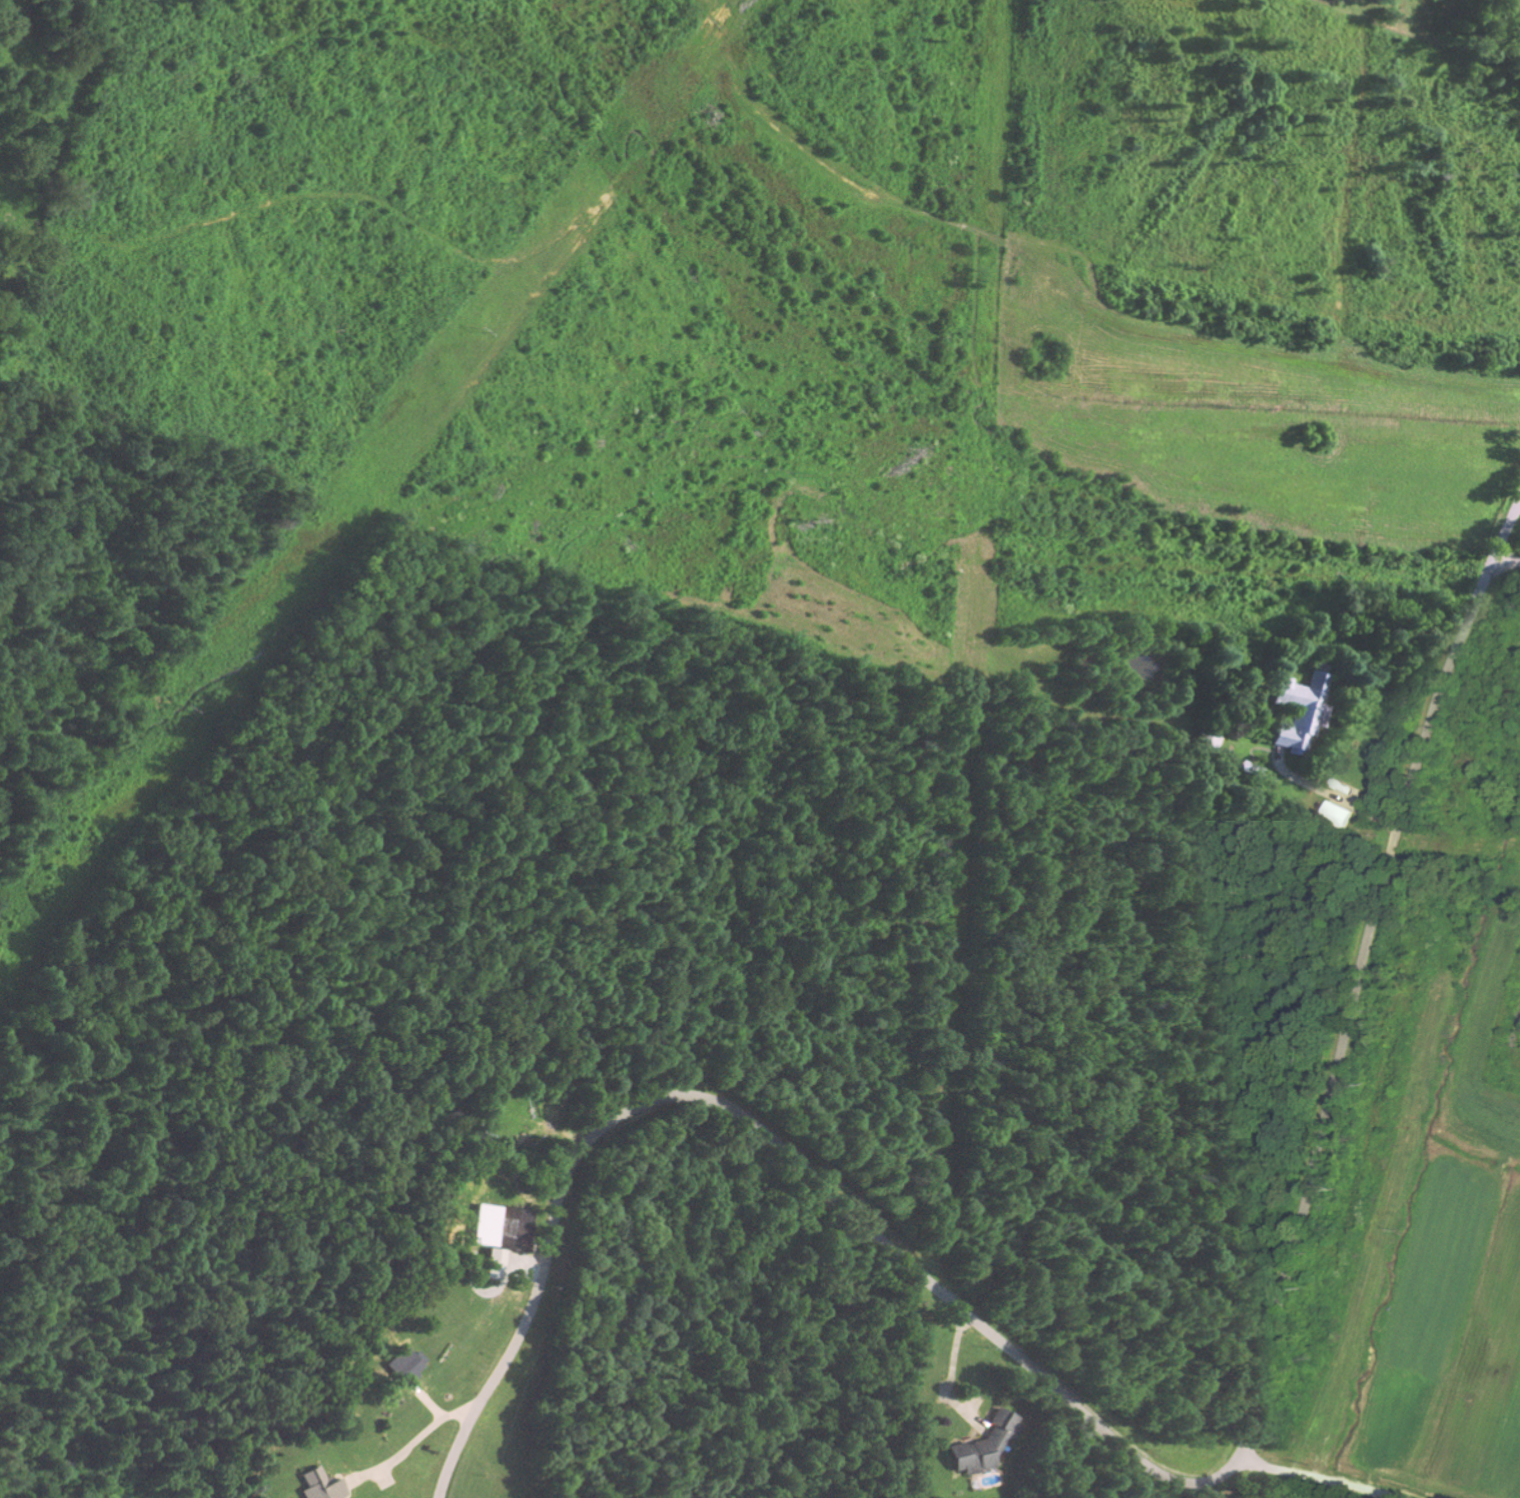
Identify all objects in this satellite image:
road: (1509, 550)
building: (1303, 711)
road: (1328, 795)
building: (1342, 812)
building: (504, 1234)
road: (884, 1388)
road: (413, 1443)
building: (989, 1443)
road: (1144, 1454)
road: (1290, 1477)
building: (325, 1485)

